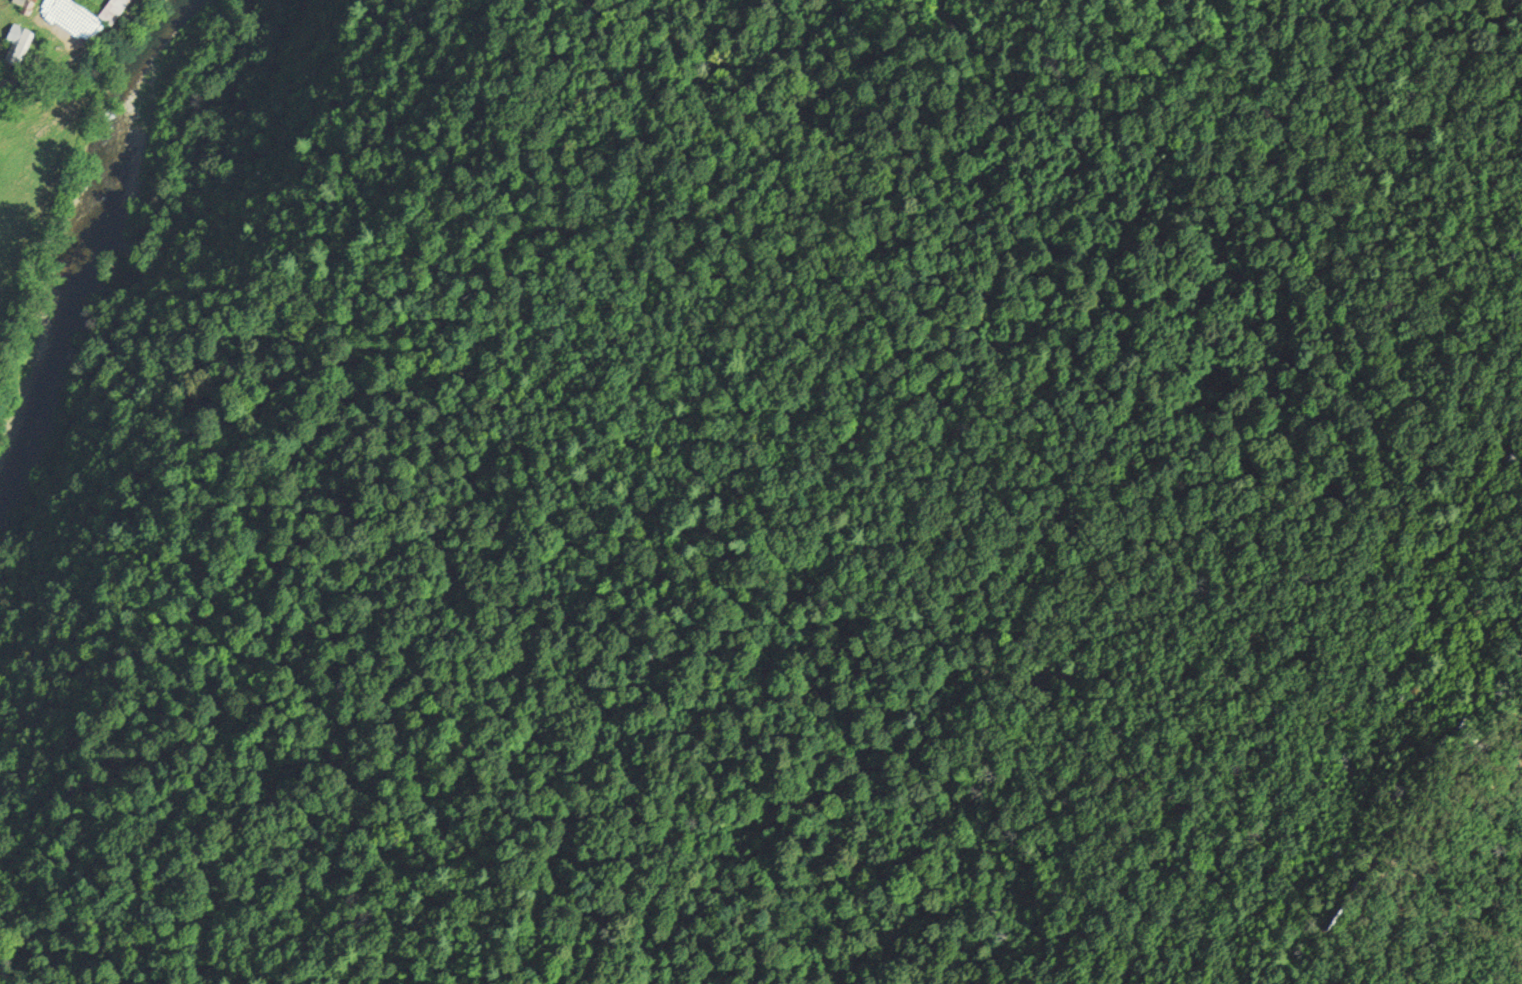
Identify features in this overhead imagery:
building: (114, 10)
building: (20, 44)
road: (79, 55)
river: (79, 223)

